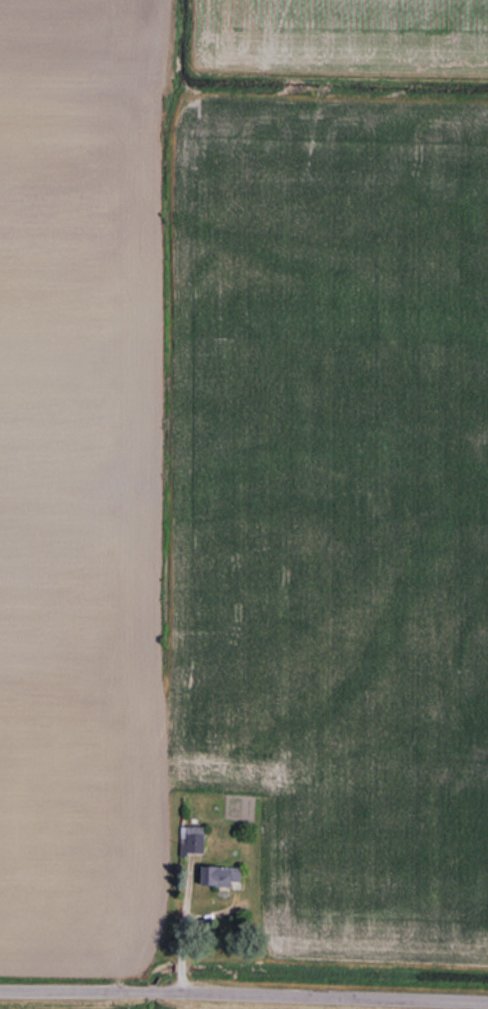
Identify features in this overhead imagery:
building: (192, 837)
building: (222, 876)
road: (244, 988)

